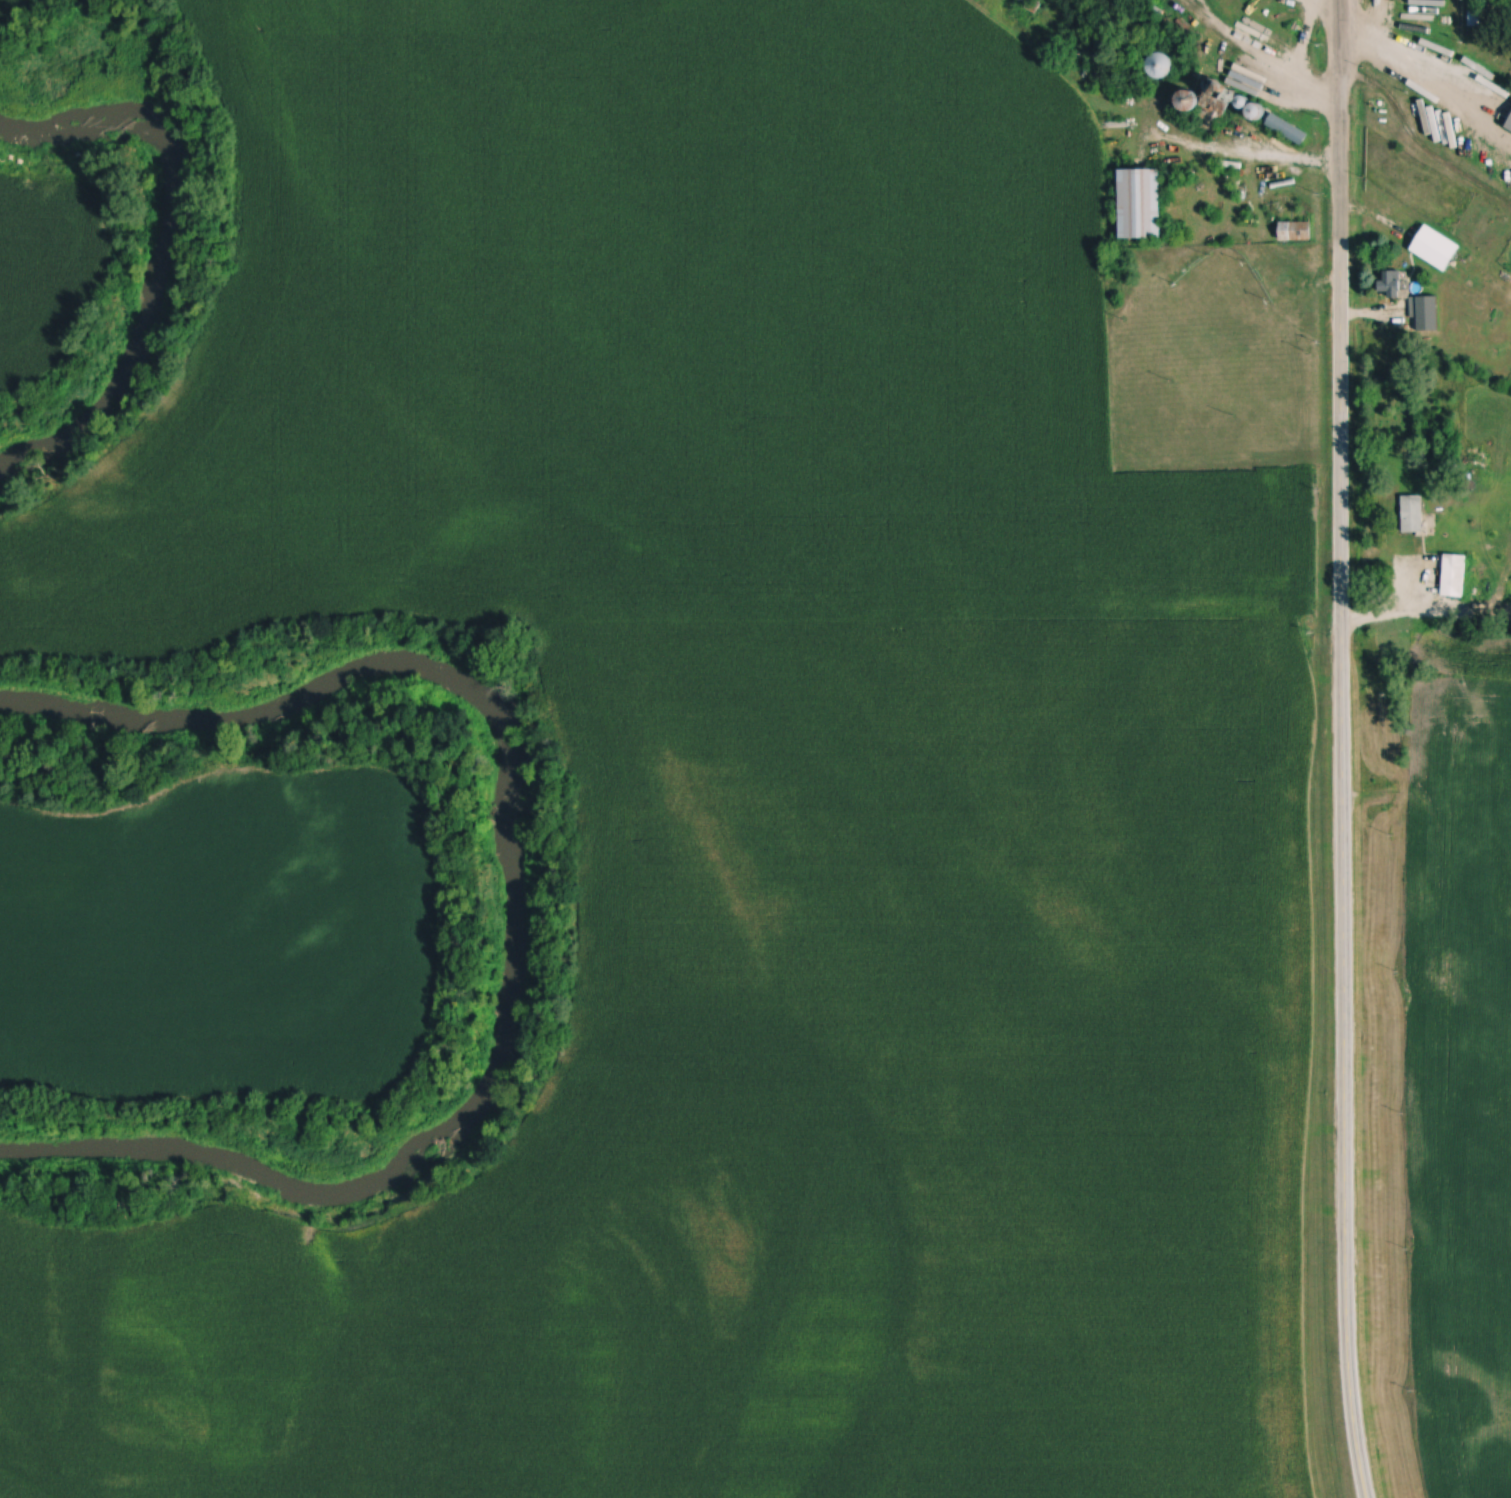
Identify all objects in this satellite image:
building: (1477, 17)
road: (1414, 79)
building: (1214, 108)
building: (1287, 130)
building: (1140, 204)
building: (1294, 231)
river: (161, 241)
building: (1435, 248)
building: (1391, 285)
building: (1427, 313)
road: (1339, 355)
building: (1413, 515)
building: (1454, 576)
river: (510, 901)
road: (1342, 1105)

